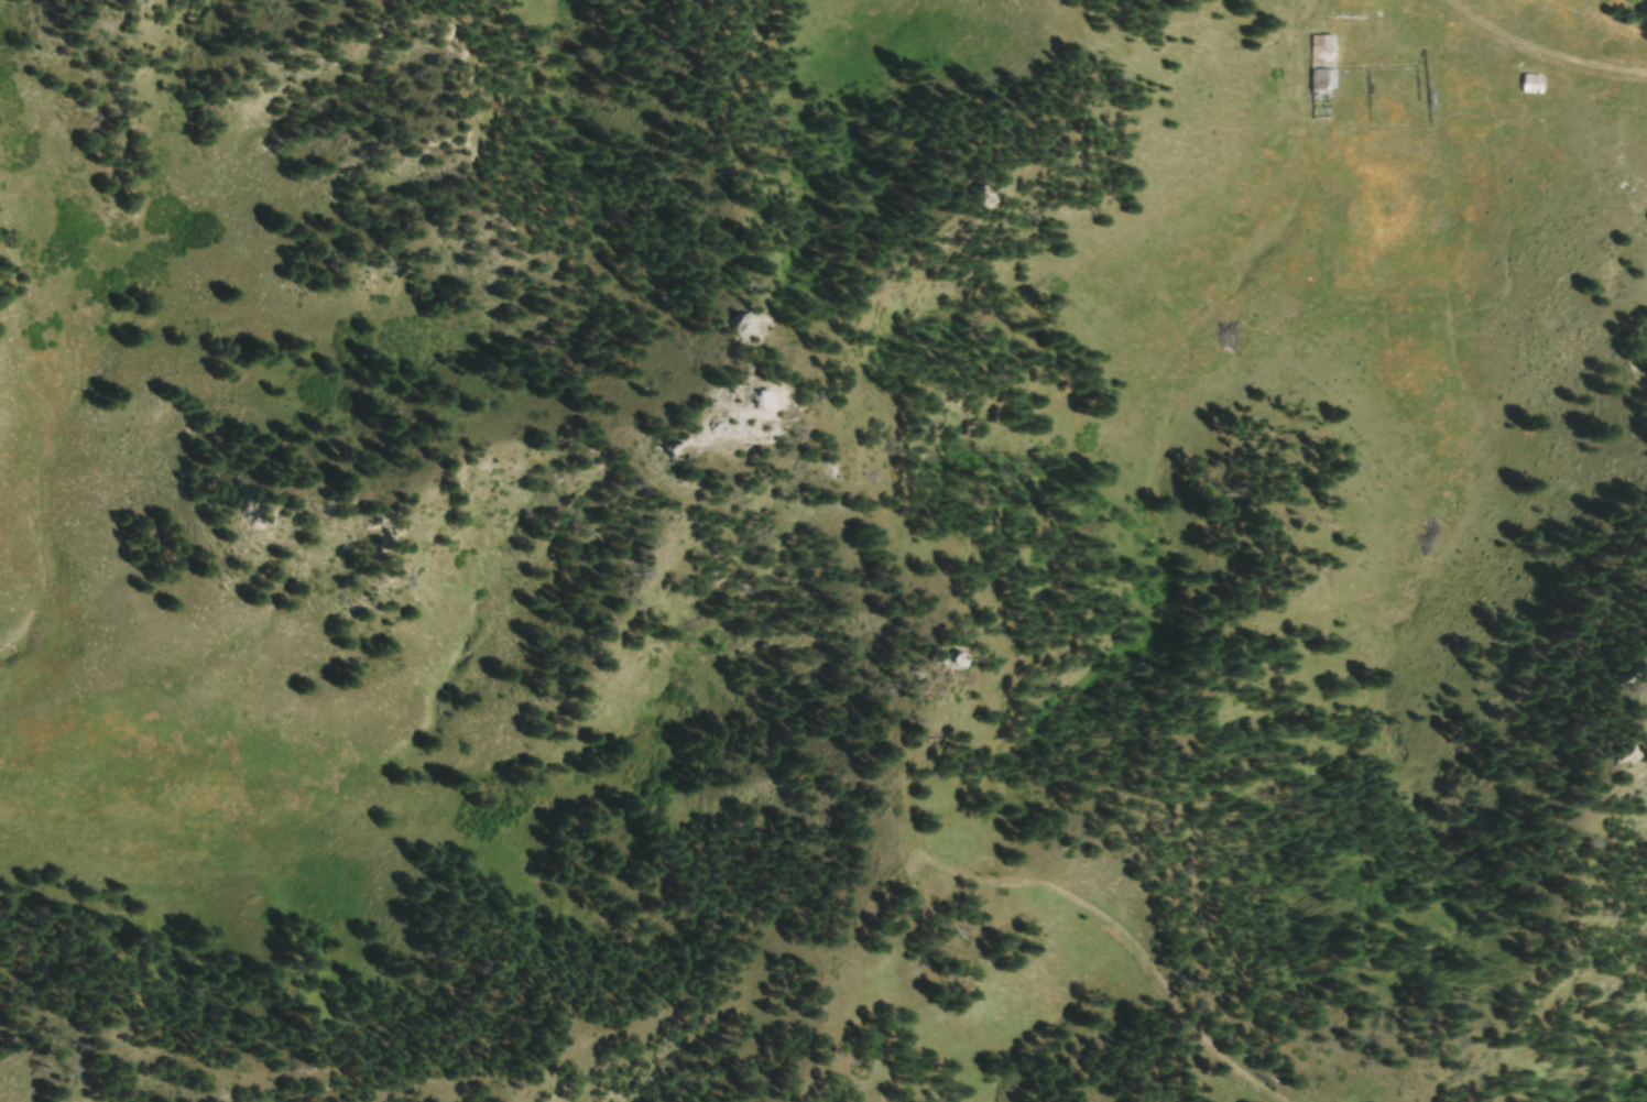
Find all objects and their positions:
building: (1637, 2)
road: (1462, 11)
building: (1324, 62)
building: (1534, 79)

